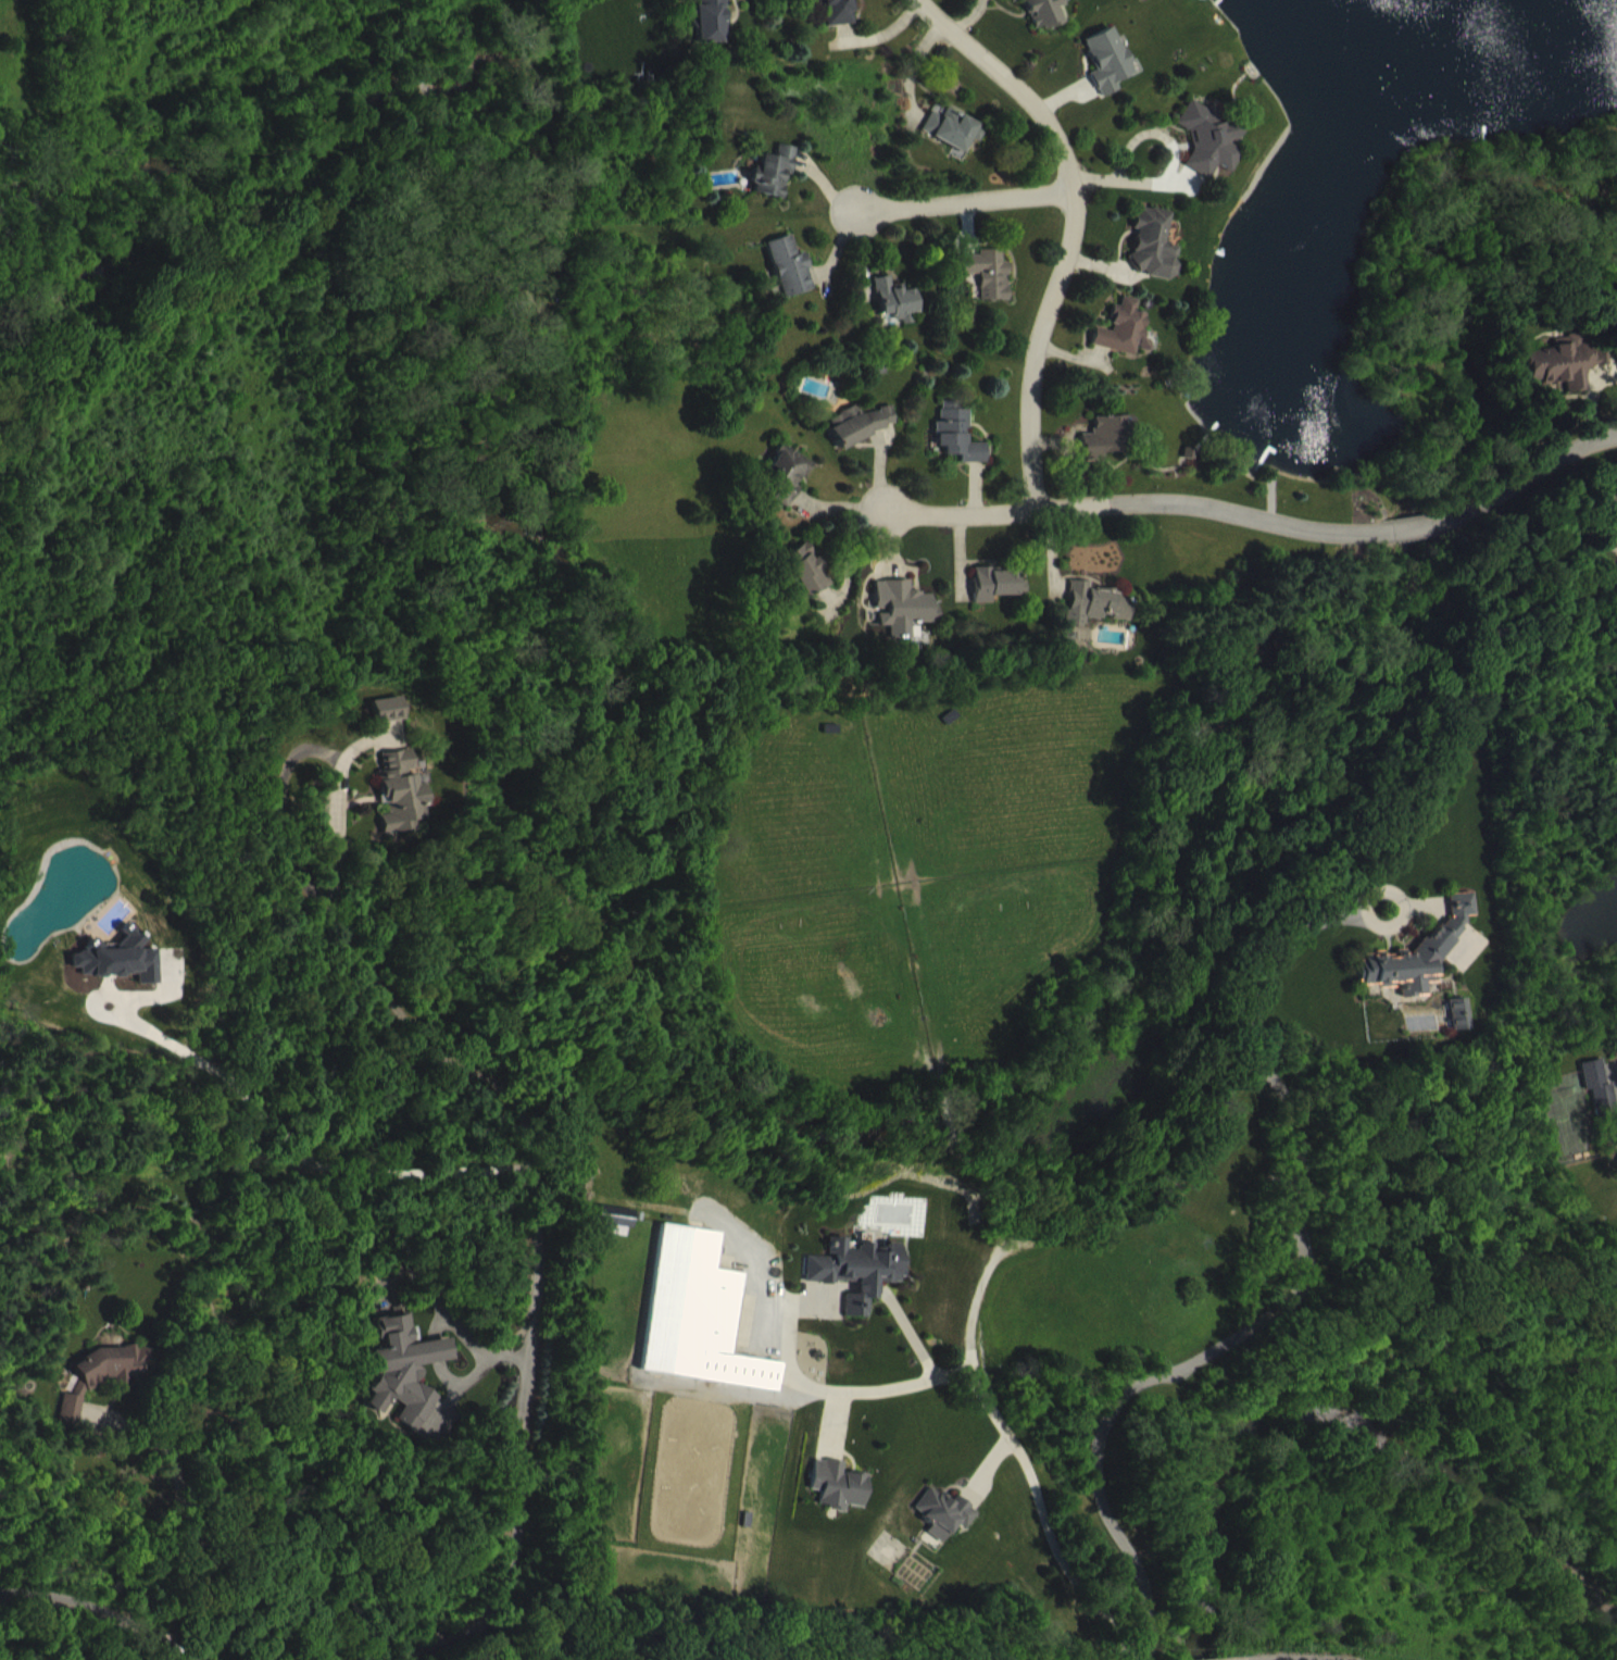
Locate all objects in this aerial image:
building: (1041, 18)
building: (840, 20)
building: (712, 29)
building: (1111, 75)
building: (955, 145)
building: (1213, 153)
road: (1180, 184)
building: (775, 186)
road: (967, 216)
road: (1076, 227)
building: (1156, 259)
building: (791, 280)
building: (989, 287)
building: (898, 314)
building: (1127, 344)
building: (1566, 376)
building: (864, 439)
building: (962, 451)
road: (1530, 475)
building: (790, 490)
road: (1135, 506)
road: (1411, 526)
building: (1613, 552)
building: (810, 585)
building: (1000, 598)
building: (1098, 617)
building: (906, 619)
building: (1069, 654)
building: (390, 725)
road: (305, 750)
building: (402, 808)
building: (1413, 950)
building: (1420, 969)
building: (1451, 1009)
building: (1458, 1028)
building: (1602, 1099)
road: (271, 1124)
building: (613, 1215)
building: (619, 1234)
road: (1295, 1235)
building: (851, 1265)
road: (534, 1269)
building: (858, 1285)
building: (693, 1311)
building: (400, 1365)
building: (98, 1371)
building: (105, 1389)
road: (987, 1398)
building: (833, 1481)
road: (184, 1499)
building: (941, 1509)
building: (947, 1527)
road: (103, 1611)
road: (1140, 1656)

